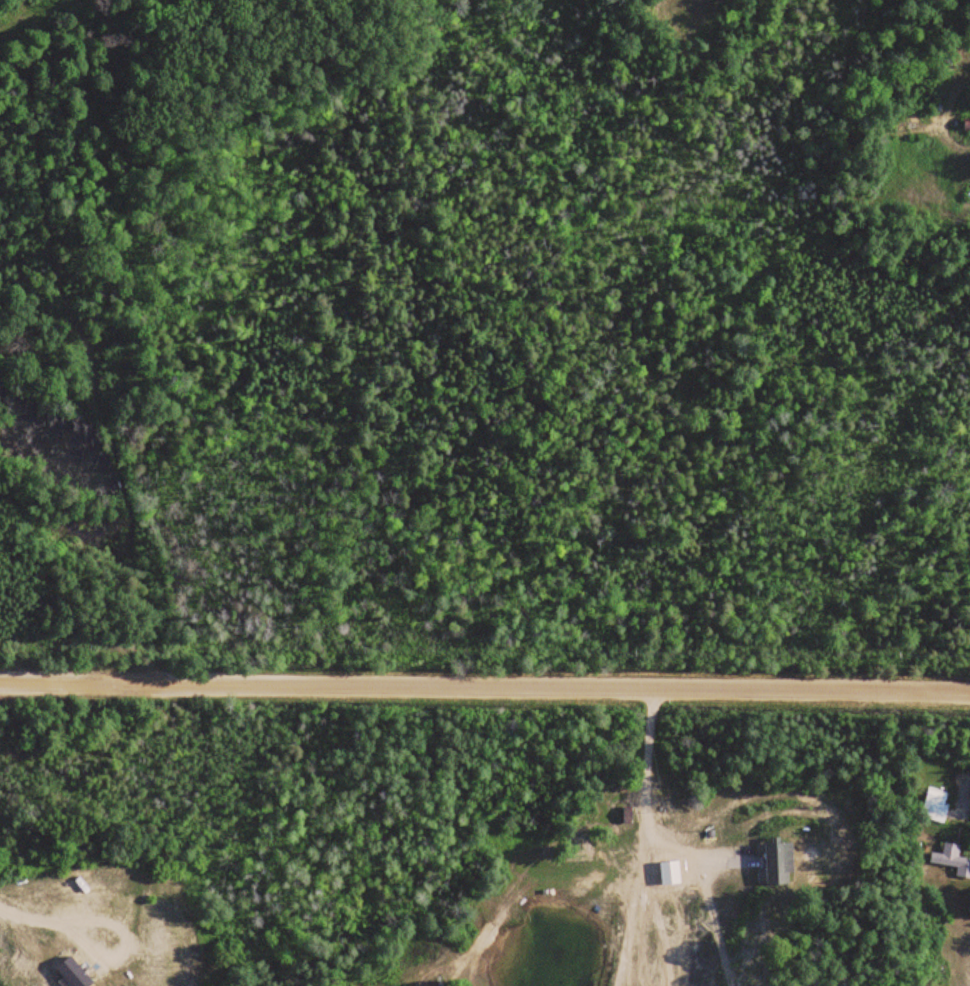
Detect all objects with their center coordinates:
road: (485, 680)
building: (610, 787)
building: (934, 805)
building: (951, 858)
building: (778, 863)

